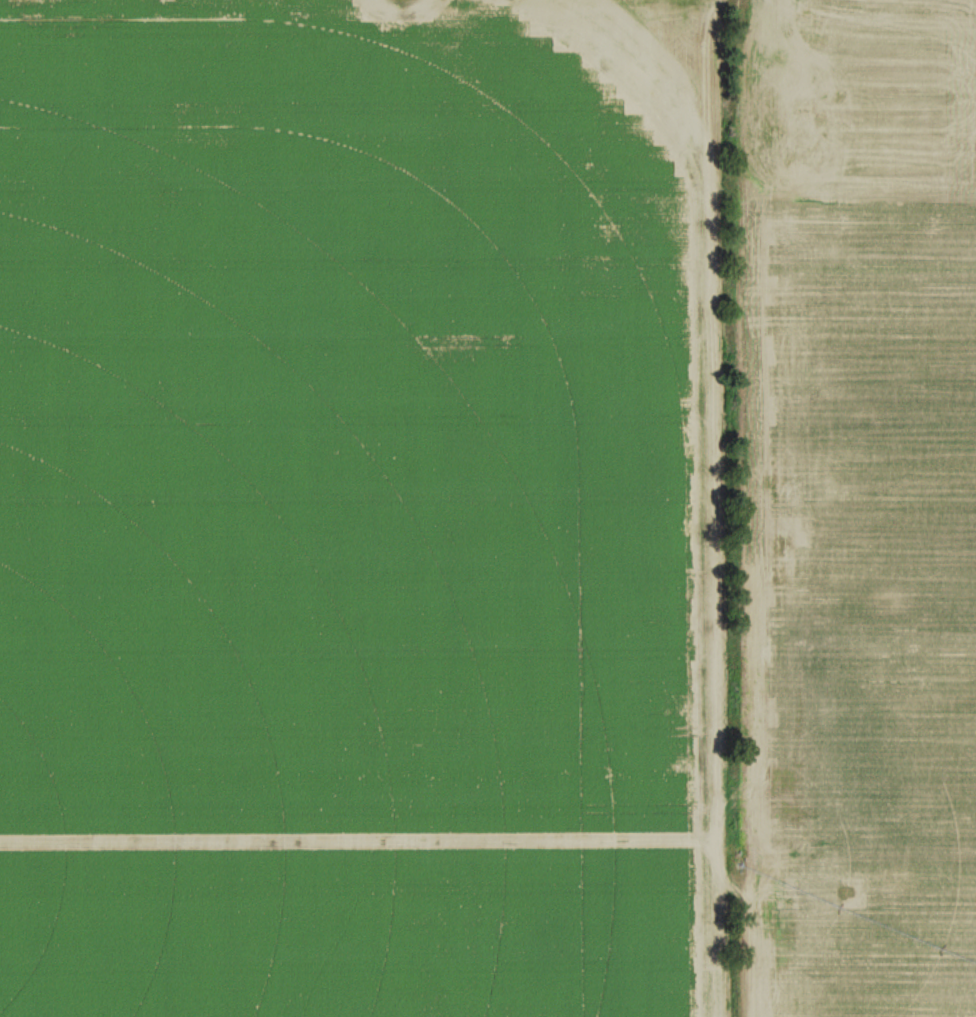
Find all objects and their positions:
crop: (850, 504)
crop: (359, 514)

